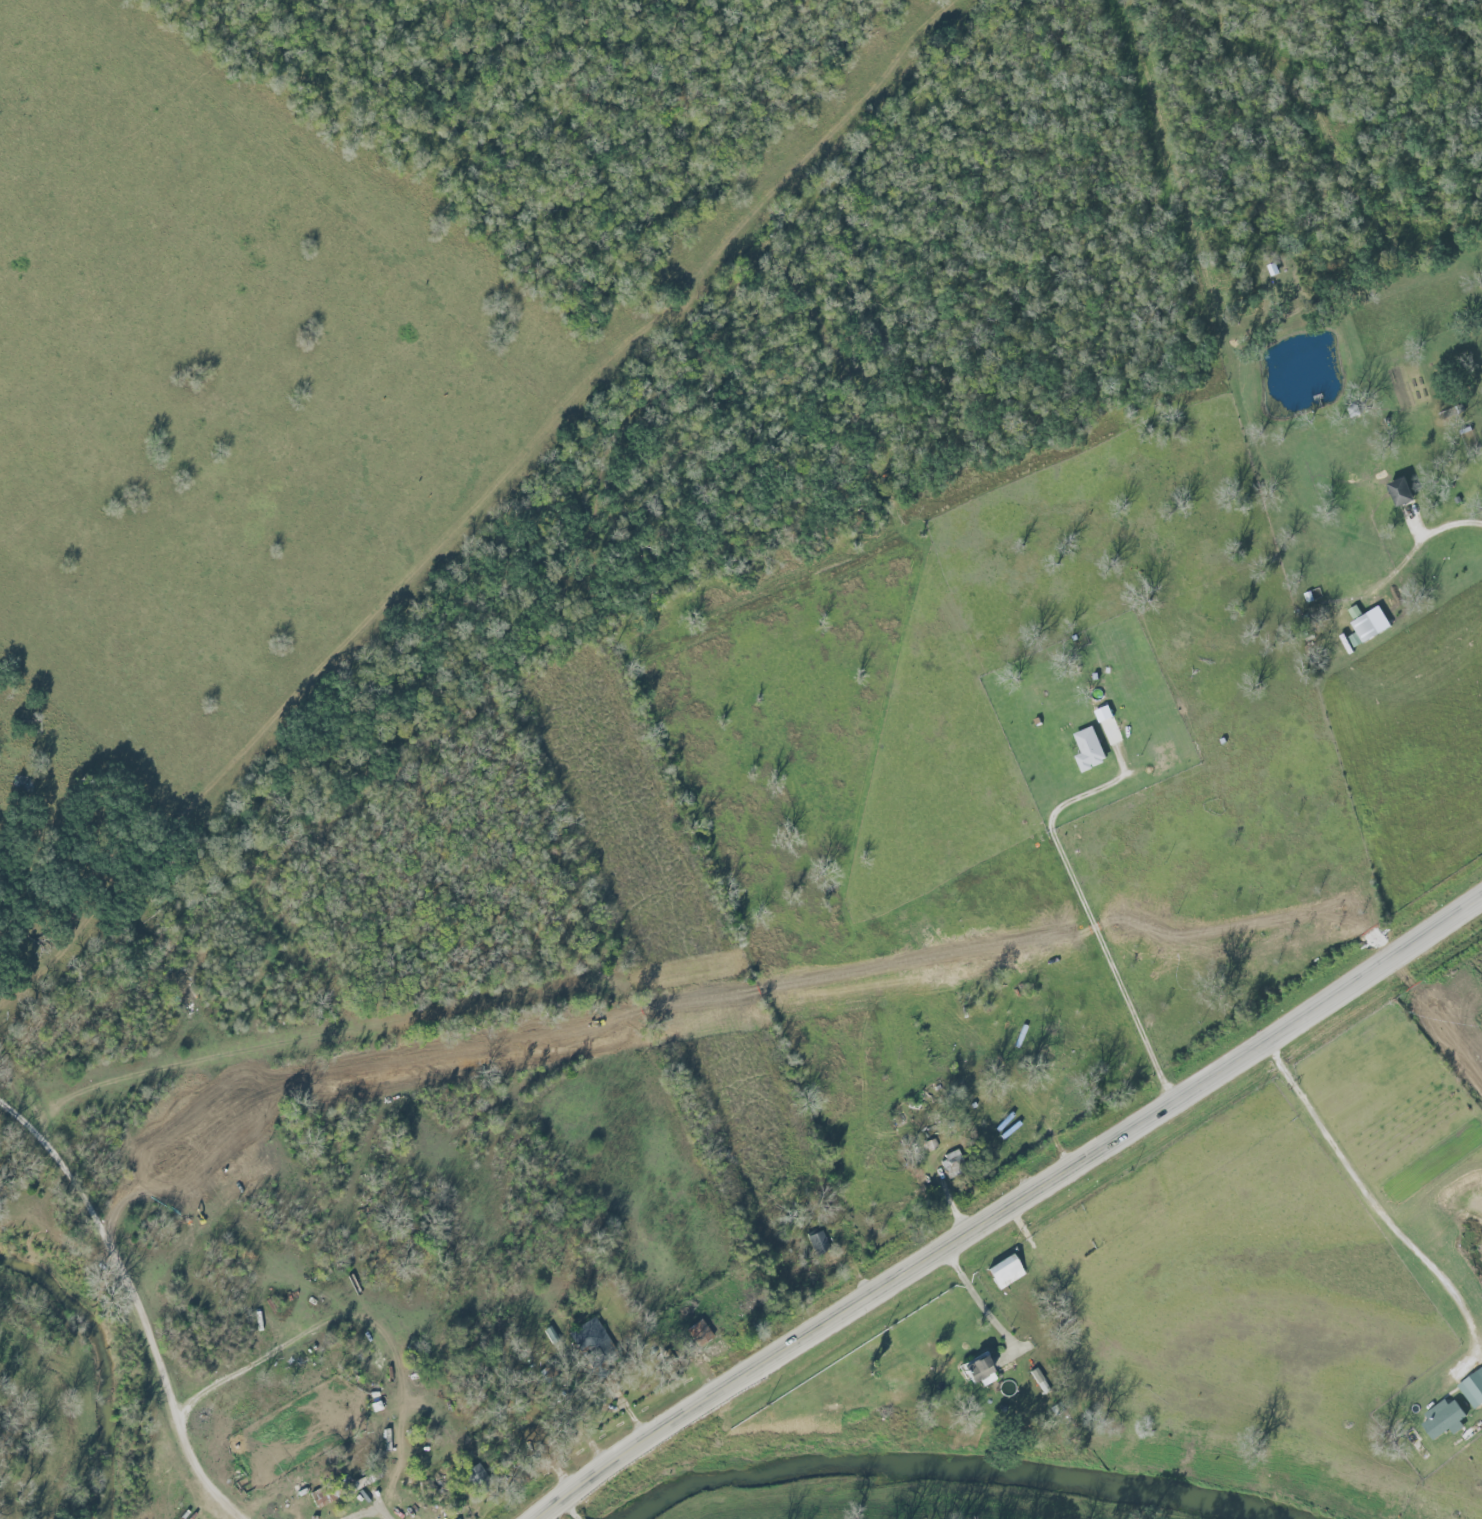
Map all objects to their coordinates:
building: (1405, 493)
building: (1367, 628)
building: (1090, 752)
road: (1084, 902)
road: (740, 987)
building: (953, 1165)
road: (1377, 1206)
road: (1008, 1212)
building: (818, 1244)
building: (1007, 1273)
road: (142, 1299)
road: (979, 1302)
building: (755, 1303)
building: (698, 1335)
building: (594, 1344)
river: (101, 1362)
building: (980, 1369)
river: (951, 1464)
building: (476, 1476)
building: (366, 1481)
building: (436, 1489)
building: (329, 1498)
road: (570, 1508)

